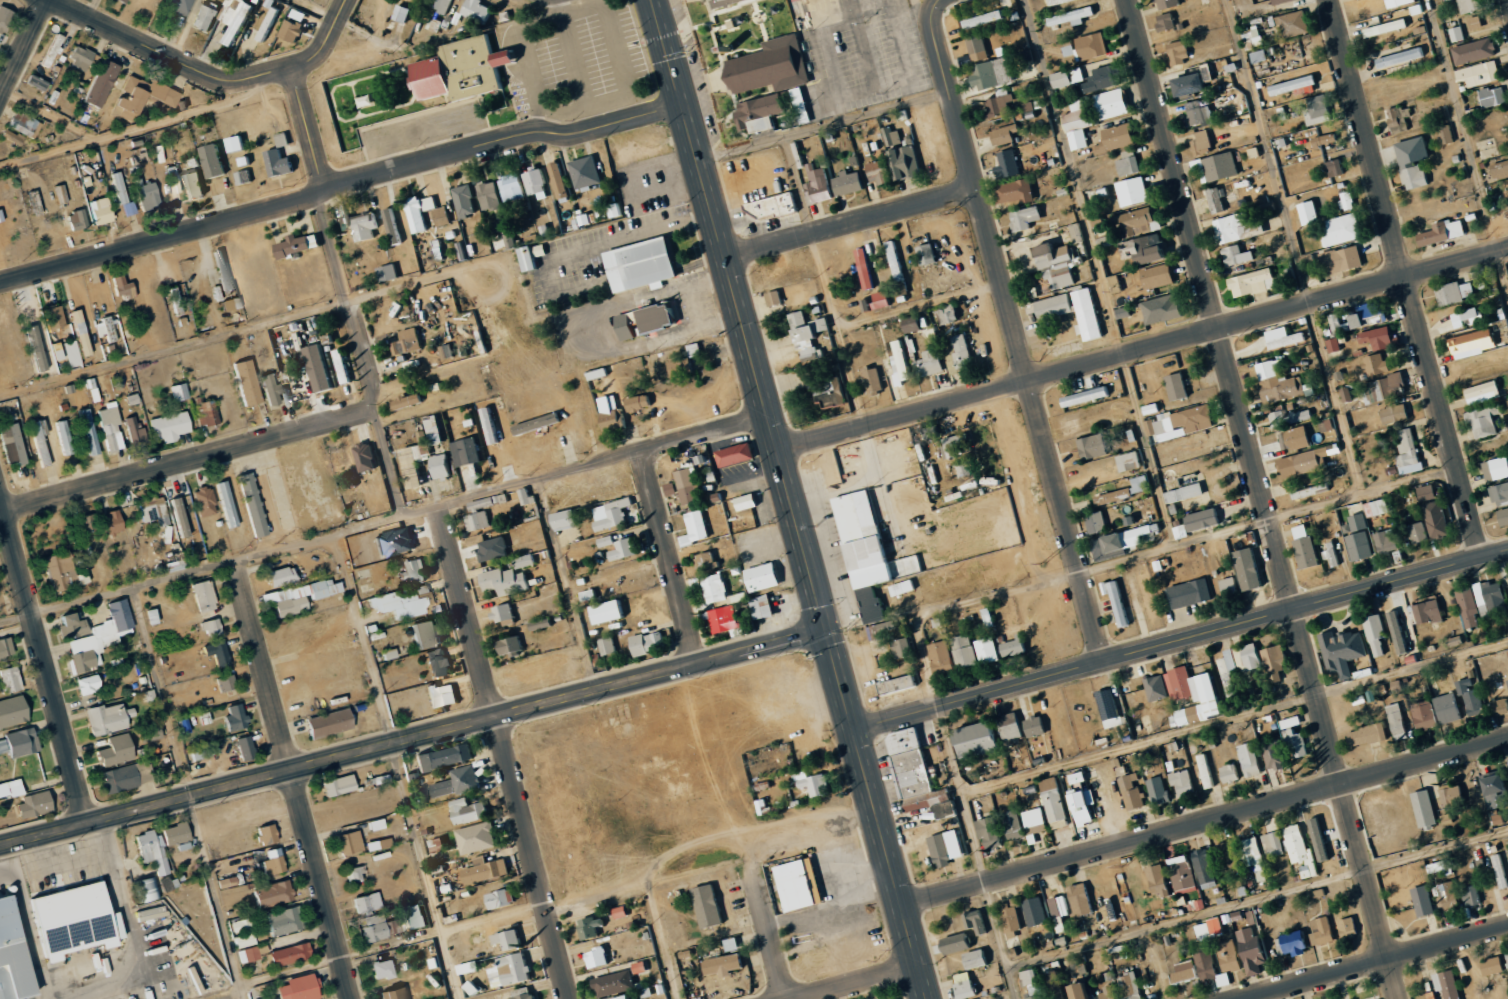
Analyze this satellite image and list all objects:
building: (124, 0)
building: (1059, 1)
building: (1281, 1)
building: (1401, 2)
building: (722, 3)
building: (1169, 3)
building: (179, 5)
building: (443, 5)
building: (1471, 5)
building: (479, 10)
building: (402, 13)
building: (300, 15)
road: (935, 16)
building: (1073, 16)
building: (206, 17)
building: (5, 18)
building: (985, 18)
building: (235, 19)
building: (1167, 21)
building: (1477, 22)
building: (1294, 23)
building: (269, 24)
building: (1386, 27)
building: (292, 31)
building: (1457, 34)
road: (139, 40)
building: (1093, 45)
building: (978, 47)
road: (24, 50)
building: (53, 50)
building: (1180, 51)
building: (1475, 51)
building: (1260, 56)
building: (1402, 57)
building: (81, 58)
road: (617, 59)
road: (576, 64)
road: (305, 65)
building: (772, 66)
building: (465, 70)
building: (1478, 73)
building: (993, 74)
building: (1067, 77)
building: (1103, 78)
building: (37, 83)
building: (102, 83)
building: (1190, 84)
building: (1296, 85)
building: (1493, 96)
building: (142, 97)
building: (1112, 103)
building: (802, 105)
building: (999, 105)
building: (1319, 110)
building: (761, 112)
building: (1201, 116)
building: (1398, 119)
building: (24, 124)
building: (1078, 124)
road: (309, 130)
building: (1005, 134)
building: (1447, 134)
building: (893, 136)
building: (13, 137)
building: (1117, 138)
building: (1326, 140)
building: (283, 141)
building: (1203, 142)
building: (236, 144)
building: (214, 161)
building: (1414, 161)
building: (908, 162)
building: (1008, 162)
building: (1129, 163)
building: (279, 164)
building: (1220, 167)
building: (1336, 168)
building: (1501, 170)
building: (881, 171)
building: (586, 172)
building: (172, 176)
building: (243, 177)
building: (558, 179)
building: (850, 182)
building: (536, 184)
building: (819, 184)
road: (341, 185)
building: (193, 186)
building: (512, 187)
building: (1017, 191)
building: (1133, 191)
building: (147, 194)
building: (490, 196)
building: (123, 197)
building: (1219, 200)
building: (1348, 200)
building: (465, 201)
building: (773, 206)
building: (101, 211)
building: (420, 211)
power tower: (950, 212)
building: (1310, 212)
building: (442, 216)
building: (1027, 217)
building: (77, 220)
building: (1139, 221)
road: (851, 224)
building: (362, 225)
building: (391, 226)
building: (1234, 227)
building: (1342, 230)
building: (1445, 232)
building: (496, 241)
building: (510, 241)
building: (296, 246)
building: (1147, 249)
building: (929, 254)
building: (1238, 255)
building: (534, 256)
building: (1342, 260)
building: (896, 261)
building: (644, 264)
building: (1057, 264)
building: (866, 268)
building: (223, 269)
building: (1159, 276)
road: (1406, 278)
building: (1254, 282)
building: (1116, 283)
building: (123, 286)
building: (1456, 292)
building: (775, 298)
building: (881, 299)
building: (176, 300)
building: (231, 303)
building: (1052, 306)
building: (1172, 307)
building: (1124, 312)
building: (1151, 312)
building: (1087, 313)
building: (949, 314)
building: (1372, 314)
building: (54, 316)
building: (201, 316)
building: (659, 317)
building: (1469, 317)
building: (916, 323)
building: (629, 324)
building: (1338, 324)
building: (106, 328)
building: (81, 332)
building: (809, 335)
building: (1285, 337)
building: (1379, 338)
building: (408, 342)
building: (1475, 343)
building: (1334, 345)
building: (39, 347)
road: (1020, 348)
building: (696, 349)
road: (1142, 349)
building: (447, 351)
building: (962, 352)
road: (360, 355)
building: (901, 363)
building: (931, 363)
building: (342, 365)
building: (1377, 365)
building: (682, 367)
building: (319, 368)
building: (871, 381)
building: (247, 382)
building: (824, 382)
building: (1278, 383)
building: (1178, 386)
building: (272, 389)
building: (1385, 389)
building: (179, 392)
building: (1484, 392)
building: (1087, 396)
building: (407, 401)
building: (640, 402)
building: (206, 413)
building: (612, 413)
building: (1395, 413)
building: (1289, 417)
building: (1485, 420)
building: (1182, 422)
building: (491, 425)
building: (170, 426)
building: (110, 427)
building: (434, 429)
building: (88, 431)
building: (134, 432)
building: (64, 437)
building: (1295, 439)
building: (40, 443)
building: (12, 444)
building: (1094, 446)
building: (957, 447)
building: (467, 451)
building: (1409, 452)
building: (736, 455)
building: (365, 457)
building: (416, 460)
building: (1129, 461)
road: (187, 462)
road: (603, 462)
building: (1301, 463)
building: (442, 467)
building: (966, 468)
building: (1496, 469)
building: (688, 486)
building: (672, 489)
building: (1128, 491)
building: (1428, 492)
building: (1185, 493)
building: (527, 496)
road: (791, 499)
road: (1265, 499)
building: (205, 501)
building: (748, 501)
building: (228, 504)
building: (253, 505)
building: (1379, 508)
building: (154, 510)
road: (421, 512)
building: (614, 514)
building: (478, 516)
building: (180, 517)
building: (1504, 517)
building: (1437, 519)
building: (567, 520)
building: (1204, 520)
building: (112, 522)
building: (87, 523)
building: (1097, 523)
building: (696, 528)
building: (1419, 532)
building: (1358, 538)
building: (865, 539)
building: (605, 541)
building: (1119, 542)
building: (1306, 546)
building: (494, 549)
building: (624, 549)
building: (1332, 555)
road: (670, 559)
building: (525, 561)
building: (706, 562)
power tower: (1044, 563)
road: (202, 568)
building: (1250, 569)
building: (414, 571)
building: (63, 572)
building: (282, 576)
building: (764, 577)
building: (506, 581)
building: (1229, 586)
building: (904, 587)
building: (720, 590)
building: (1190, 593)
building: (204, 595)
building: (300, 596)
building: (1147, 596)
building: (1490, 599)
building: (402, 602)
building: (1119, 602)
building: (873, 604)
road: (953, 604)
building: (764, 607)
building: (1468, 608)
building: (609, 612)
building: (1429, 612)
building: (503, 613)
building: (727, 620)
building: (541, 624)
building: (73, 625)
building: (212, 627)
building: (883, 629)
building: (1398, 632)
building: (427, 633)
traffic signals: (827, 633)
building: (1376, 636)
building: (99, 637)
road: (1180, 640)
building: (648, 643)
building: (511, 644)
building: (608, 646)
building: (5, 648)
building: (903, 648)
building: (1014, 648)
road: (763, 649)
building: (988, 650)
building: (965, 651)
building: (1342, 651)
building: (218, 652)
building: (942, 657)
road: (44, 660)
building: (1276, 662)
building: (438, 663)
building: (1239, 665)
building: (11, 679)
building: (226, 683)
building: (88, 684)
building: (898, 685)
building: (1157, 688)
building: (443, 695)
building: (1196, 695)
building: (1470, 696)
building: (1499, 707)
building: (1110, 708)
building: (1448, 708)
building: (13, 711)
building: (1425, 715)
building: (236, 717)
building: (108, 718)
building: (1398, 721)
building: (1291, 722)
building: (330, 723)
building: (1012, 726)
building: (1036, 726)
building: (149, 732)
building: (1367, 735)
building: (978, 740)
building: (22, 742)
building: (1296, 742)
building: (3, 746)
building: (245, 748)
building: (116, 750)
building: (201, 751)
road: (502, 752)
building: (1275, 755)
road: (349, 756)
building: (444, 757)
building: (1250, 760)
building: (915, 771)
building: (1206, 771)
building: (1231, 773)
building: (126, 776)
building: (1079, 778)
road: (291, 779)
building: (457, 782)
building: (1183, 782)
building: (814, 784)
building: (340, 785)
building: (11, 788)
building: (1496, 790)
building: (1158, 791)
building: (1132, 792)
building: (1452, 796)
building: (1055, 803)
building: (35, 804)
building: (1085, 806)
building: (1425, 809)
building: (947, 810)
building: (467, 811)
building: (1447, 818)
building: (1036, 820)
road: (1204, 821)
building: (1014, 824)
building: (991, 832)
building: (176, 834)
building: (268, 834)
building: (476, 837)
building: (1321, 840)
building: (350, 842)
building: (1274, 844)
building: (152, 850)
building: (941, 851)
building: (1301, 851)
building: (1253, 854)
building: (1227, 858)
building: (274, 862)
power tower: (1125, 865)
building: (1205, 868)
building: (486, 870)
building: (1501, 871)
road: (424, 872)
building: (1183, 873)
building: (355, 874)
building: (1159, 881)
building: (227, 882)
building: (799, 885)
building: (145, 890)
building: (274, 894)
building: (1471, 895)
building: (1448, 897)
building: (502, 899)
building: (1082, 900)
building: (1423, 901)
building: (368, 903)
building: (709, 906)
building: (621, 912)
building: (1036, 912)
building: (1061, 912)
building: (151, 913)
building: (1012, 918)
building: (414, 919)
building: (77, 921)
road: (127, 921)
building: (285, 921)
building: (976, 922)
building: (1215, 925)
building: (1348, 927)
building: (375, 928)
building: (591, 928)
road: (767, 929)
building: (1322, 931)
building: (243, 932)
building: (1198, 932)
building: (509, 940)
building: (957, 943)
building: (1294, 943)
building: (733, 945)
building: (1253, 951)
building: (252, 953)
building: (291, 954)
building: (13, 955)
building: (1230, 956)
building: (598, 958)
building: (977, 959)
building: (1506, 960)
road: (1374, 963)
building: (725, 965)
building: (1205, 965)
building: (1488, 965)
building: (640, 967)
building: (469, 968)
building: (383, 969)
building: (511, 971)
building: (1185, 972)
road: (855, 982)
building: (1444, 983)
building: (615, 984)
building: (1033, 984)
building: (966, 985)
building: (1130, 986)
building: (300, 988)
building: (1082, 991)
building: (1059, 992)
building: (1108, 993)
building: (395, 994)
building: (523, 994)
building: (1434, 995)
park: (218, 996)
building: (629, 997)
building: (268, 998)

